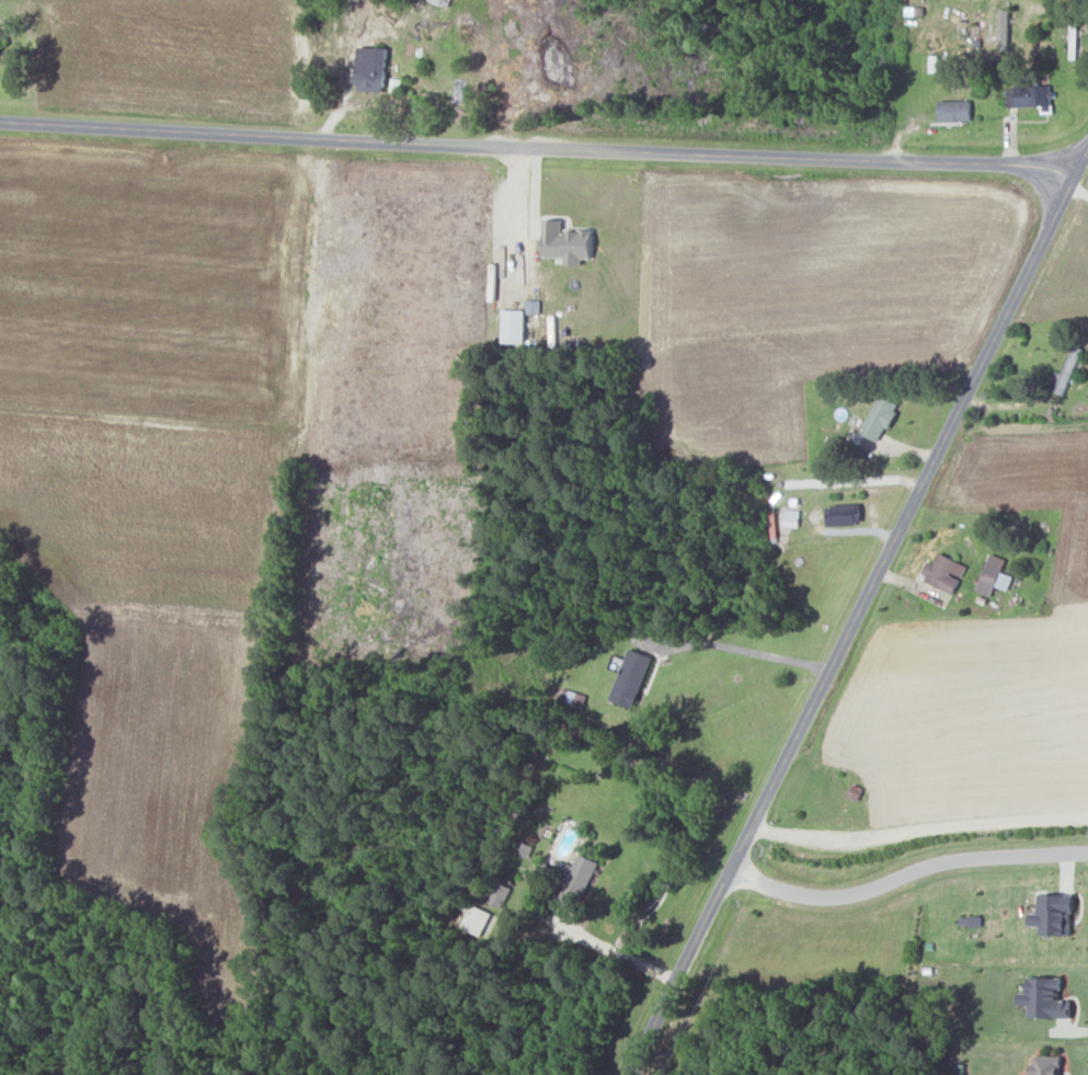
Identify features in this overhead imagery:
road: (1063, 10)
building: (1004, 30)
building: (373, 69)
building: (1029, 95)
building: (954, 110)
road: (538, 151)
building: (566, 242)
building: (513, 325)
building: (880, 419)
building: (844, 515)
building: (791, 517)
building: (944, 572)
building: (994, 576)
road: (860, 613)
road: (743, 650)
building: (630, 677)
road: (919, 837)
road: (906, 873)
building: (575, 880)
building: (1055, 915)
building: (478, 920)
road: (614, 951)
building: (1045, 999)
building: (1046, 1065)

